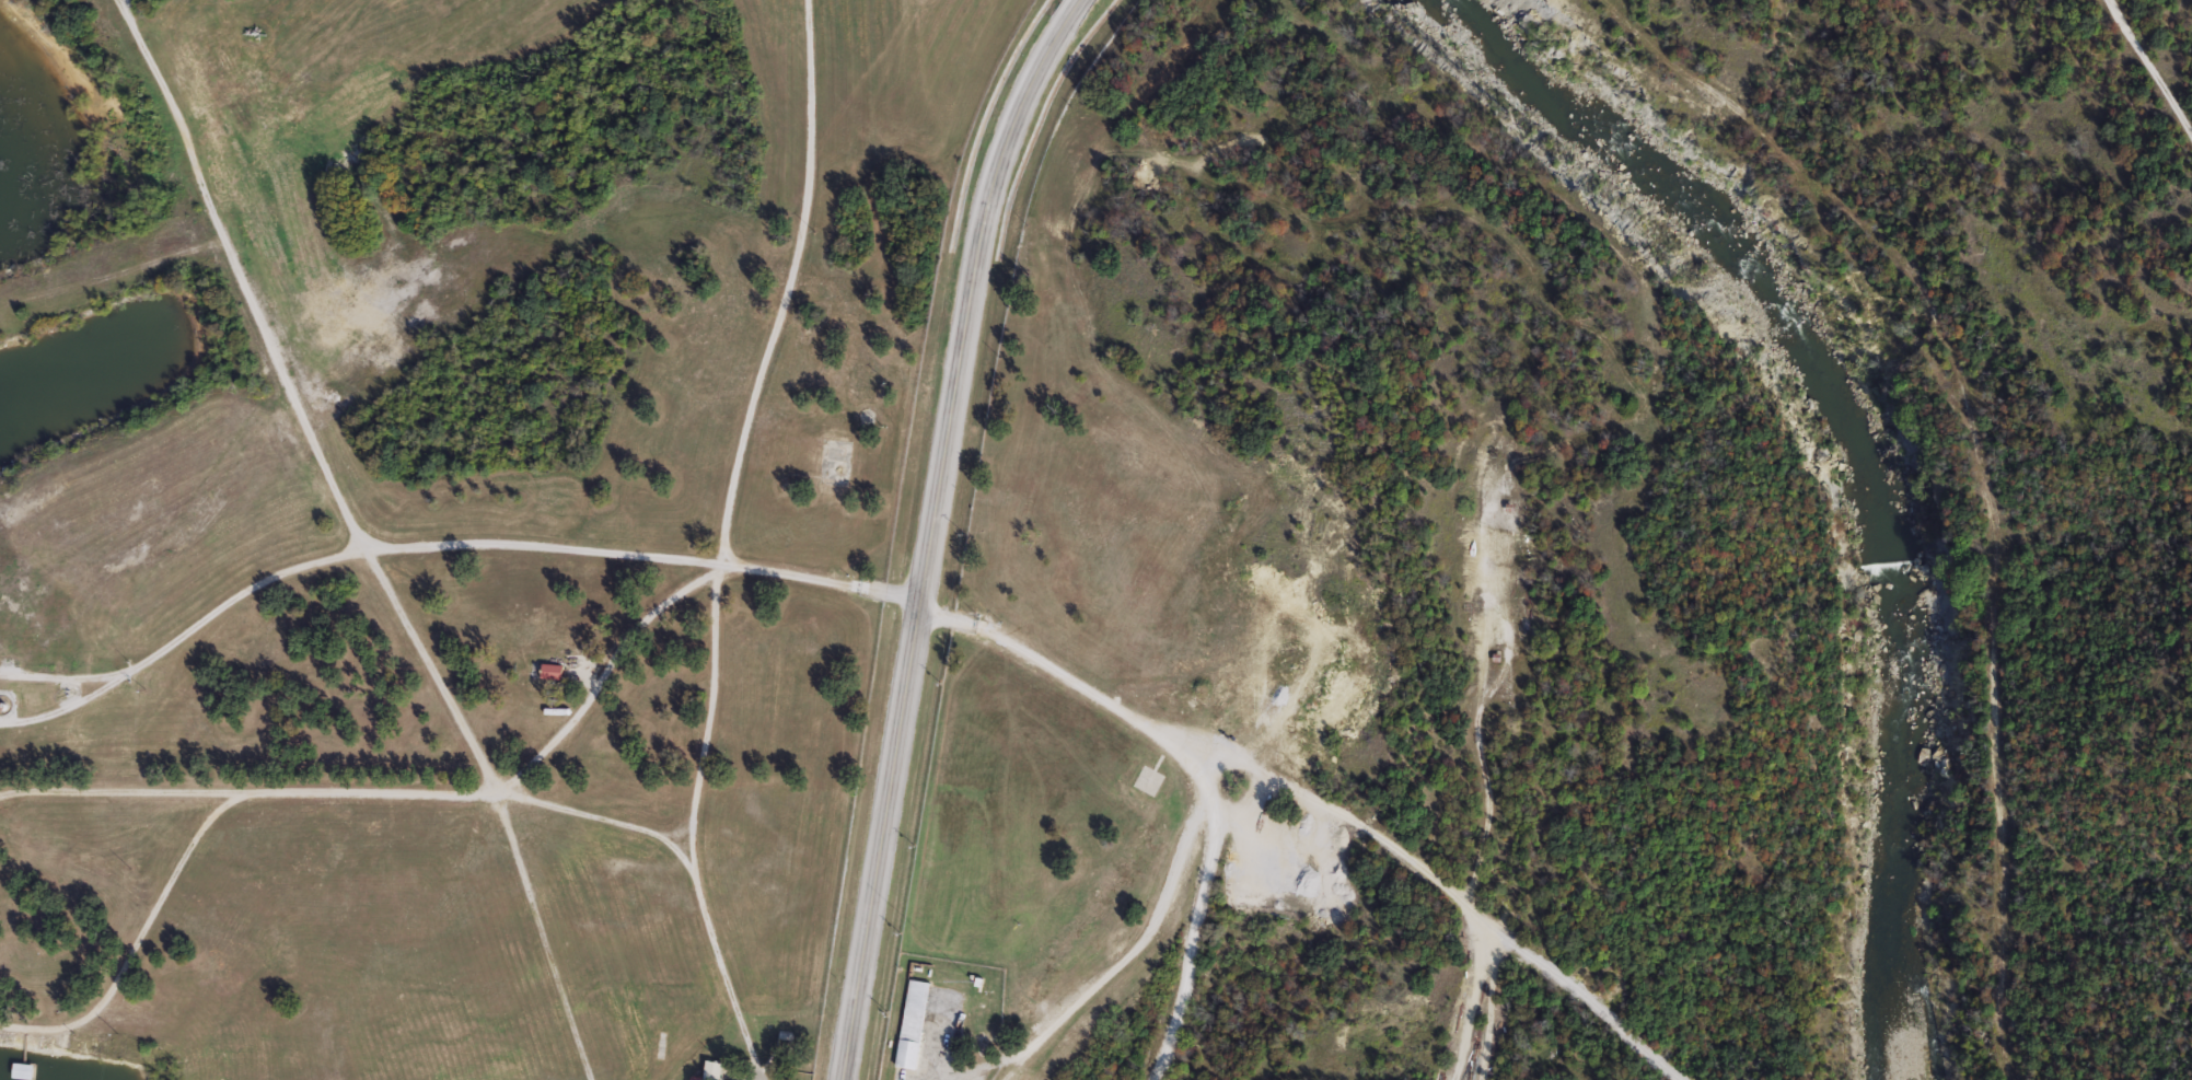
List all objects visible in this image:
road: (2147, 70)
road: (1980, 465)
road: (932, 531)
road: (357, 537)
road: (542, 546)
road: (716, 567)
road: (234, 596)
building: (554, 672)
road: (60, 677)
road: (65, 708)
road: (1113, 710)
road: (705, 719)
road: (601, 816)
road: (194, 838)
road: (1121, 962)
road: (718, 974)
building: (913, 1023)
building: (715, 1069)
building: (20, 1071)

